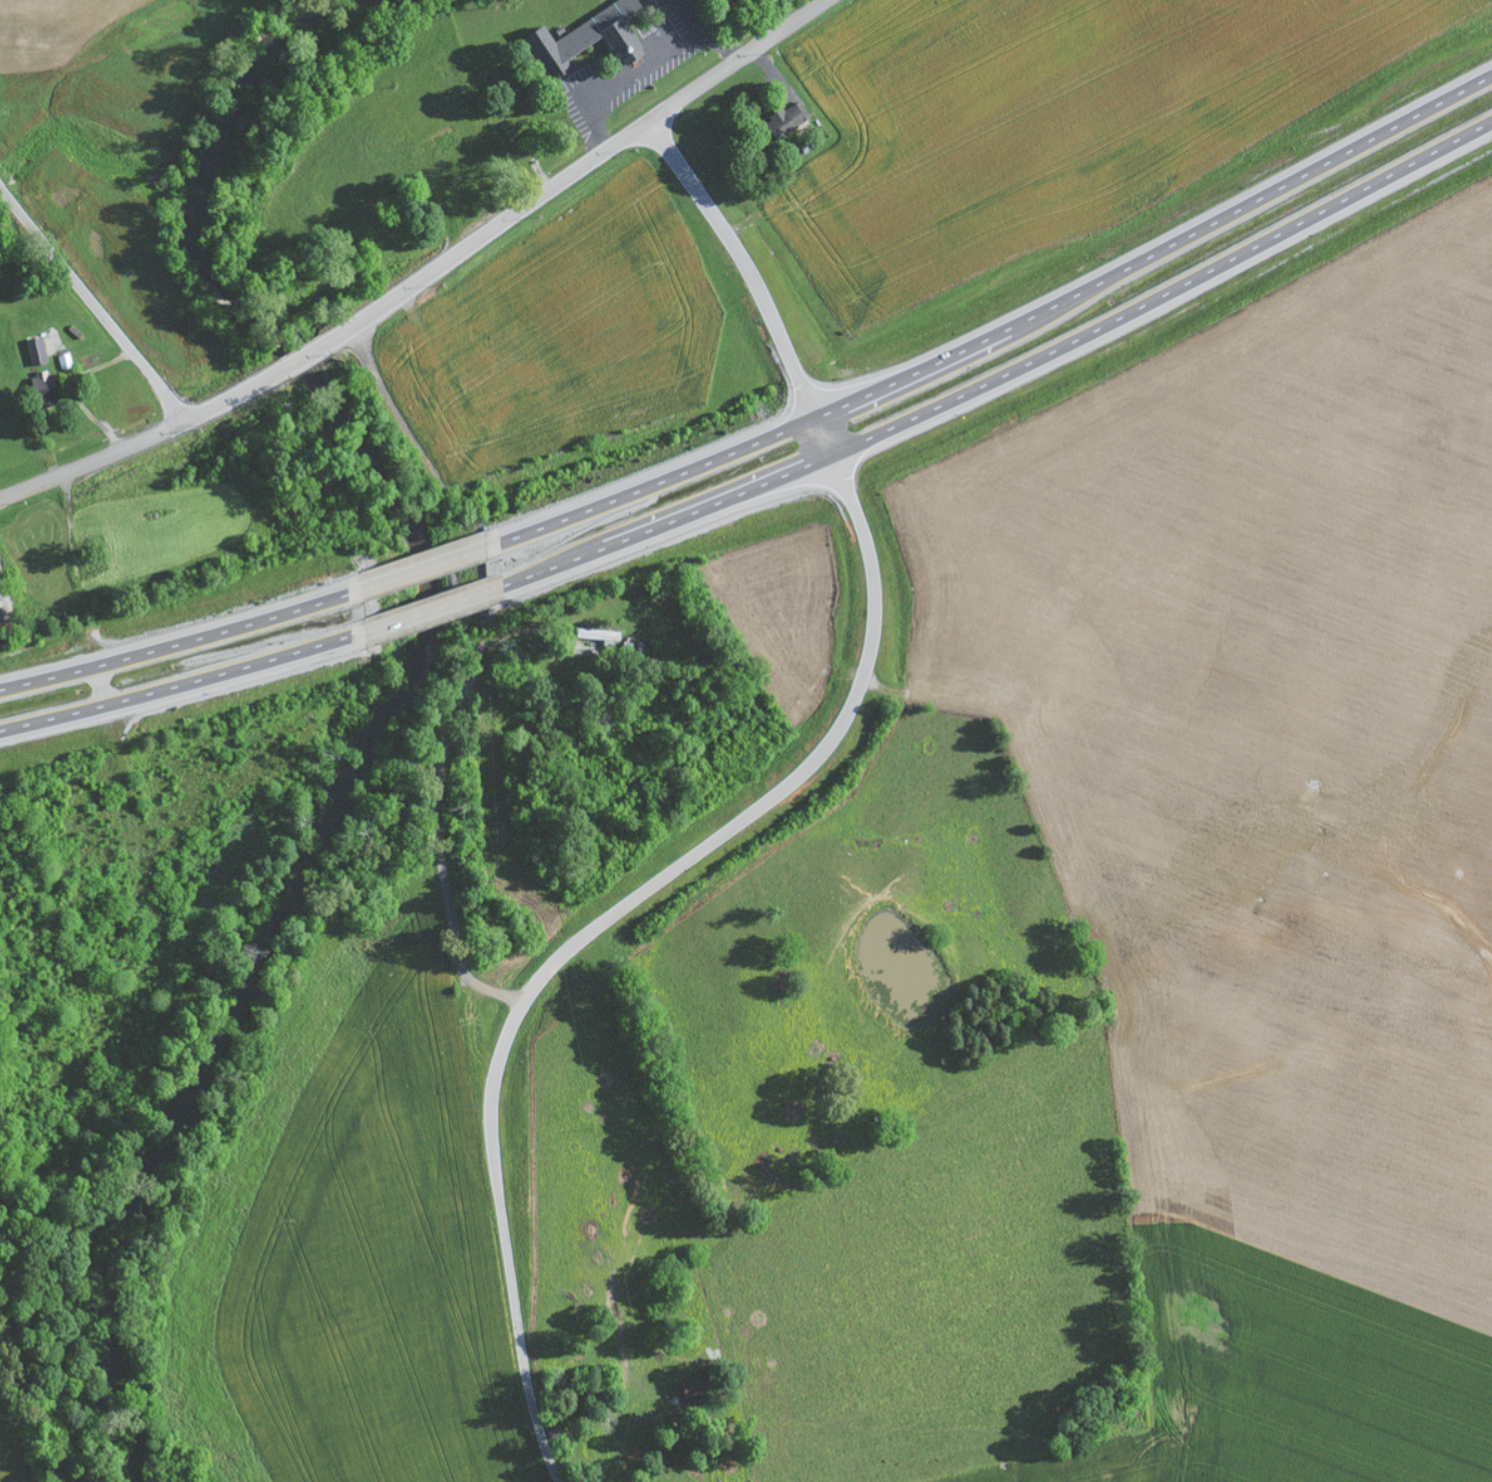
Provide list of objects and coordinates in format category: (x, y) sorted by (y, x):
building: (594, 37)
road: (734, 60)
building: (790, 120)
road: (485, 234)
road: (92, 305)
road: (1004, 331)
road: (303, 359)
building: (66, 362)
road: (1006, 374)
building: (48, 390)
road: (234, 398)
road: (387, 406)
road: (92, 460)
road: (428, 567)
road: (432, 609)
building: (603, 637)
road: (180, 643)
road: (181, 686)
road: (751, 813)
road: (436, 842)
building: (699, 1391)

